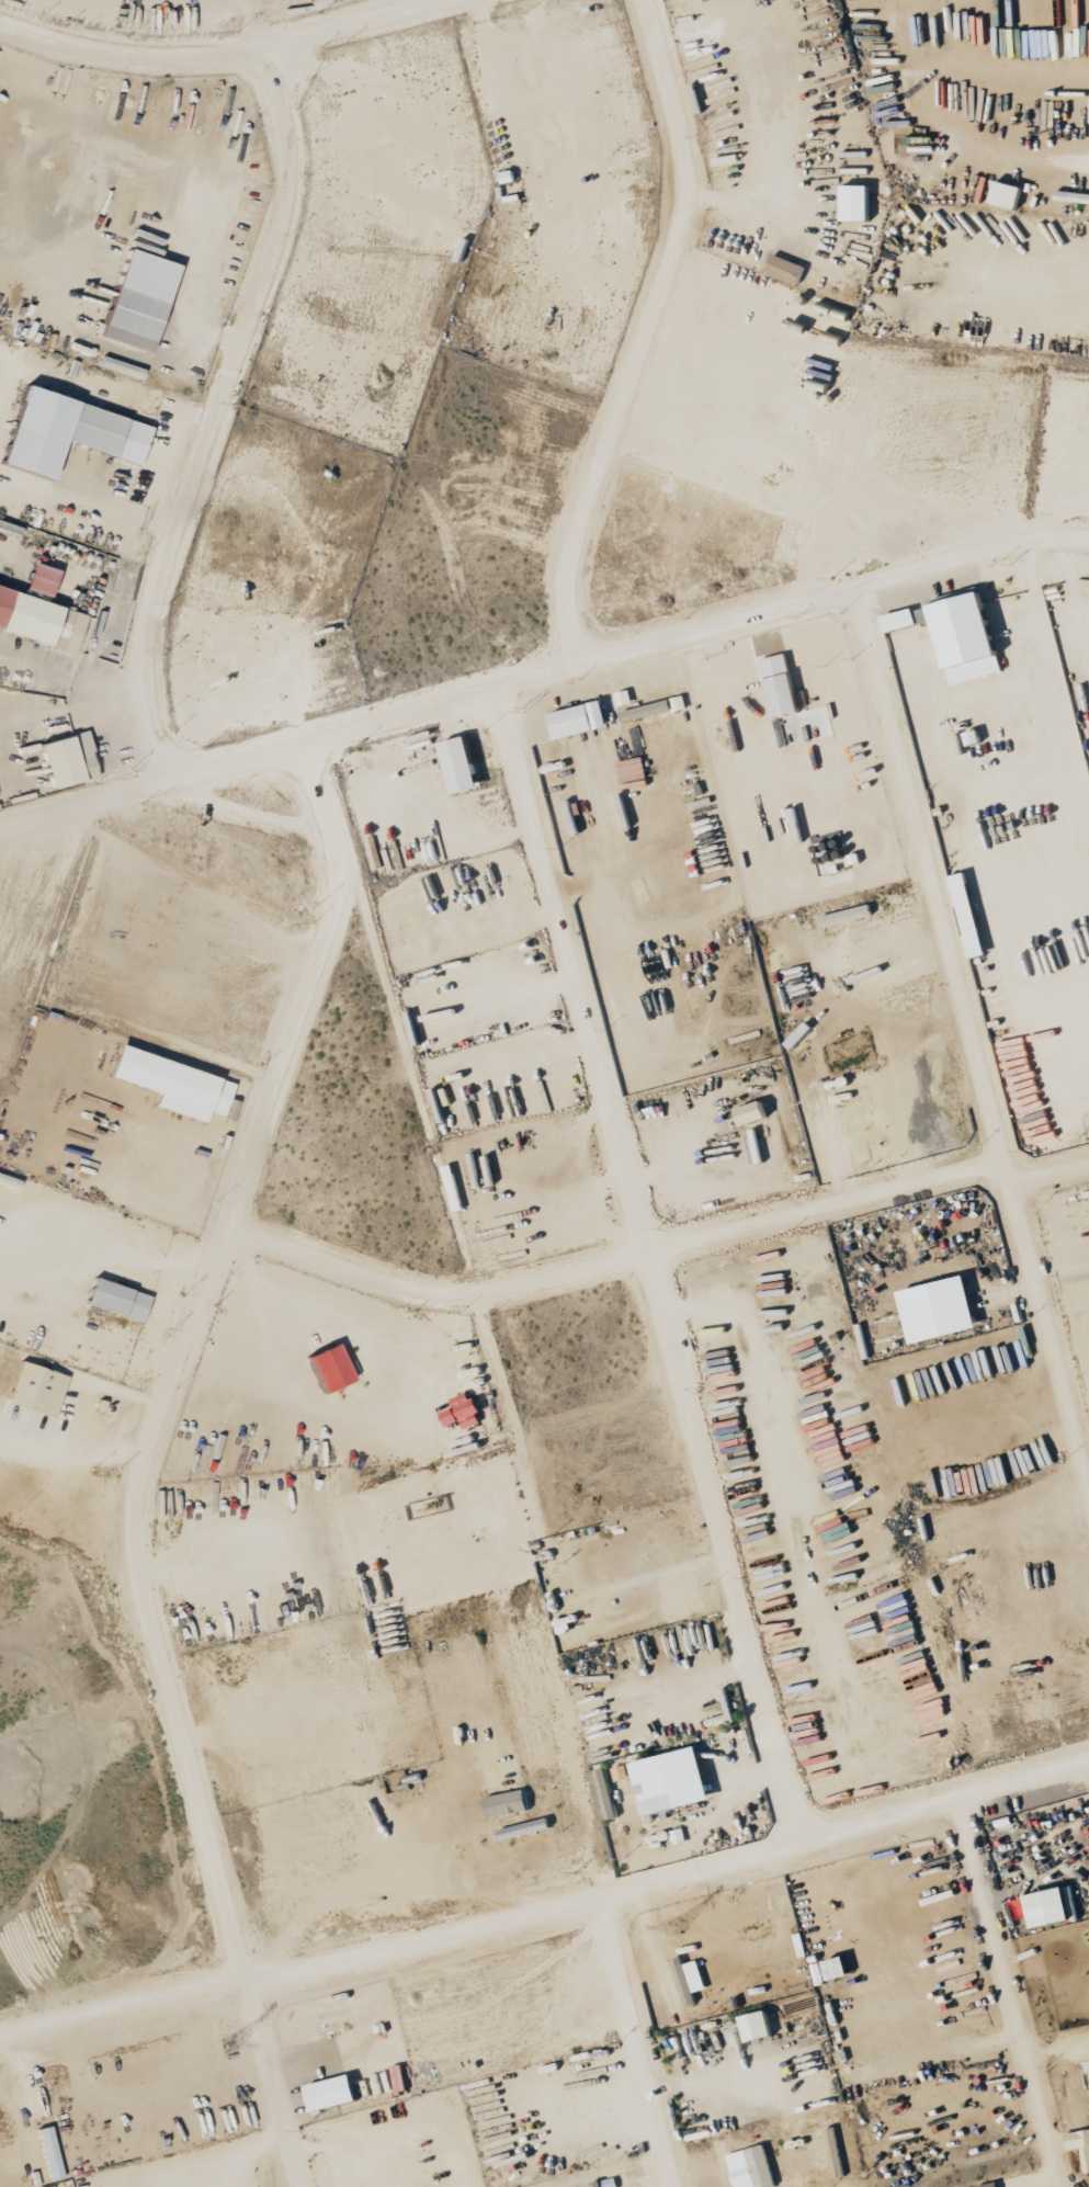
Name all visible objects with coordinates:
road: (222, 53)
building: (1010, 193)
building: (859, 202)
road: (1031, 260)
building: (787, 268)
building: (143, 299)
road: (629, 344)
building: (123, 367)
road: (207, 411)
building: (72, 432)
building: (44, 579)
building: (42, 619)
building: (907, 619)
building: (971, 637)
road: (543, 675)
building: (782, 685)
building: (622, 702)
building: (657, 709)
building: (71, 760)
building: (464, 766)
building: (971, 915)
road: (974, 1040)
building: (170, 1081)
building: (222, 1101)
building: (756, 1113)
road: (1051, 1179)
road: (651, 1261)
road: (603, 1270)
building: (121, 1299)
building: (943, 1310)
road: (154, 1357)
building: (333, 1367)
building: (38, 1387)
building: (466, 1414)
petroleum well: (434, 1500)
building: (659, 1786)
building: (509, 1803)
road: (544, 1907)
building: (1056, 1907)
power tower: (677, 1928)
building: (691, 1980)
road: (1017, 1990)
building: (760, 2026)
road: (638, 2039)
power tower: (229, 2044)
road: (271, 2087)
building: (334, 2093)
building: (1081, 2144)
building: (50, 2153)
building: (762, 2166)
building: (992, 2185)

